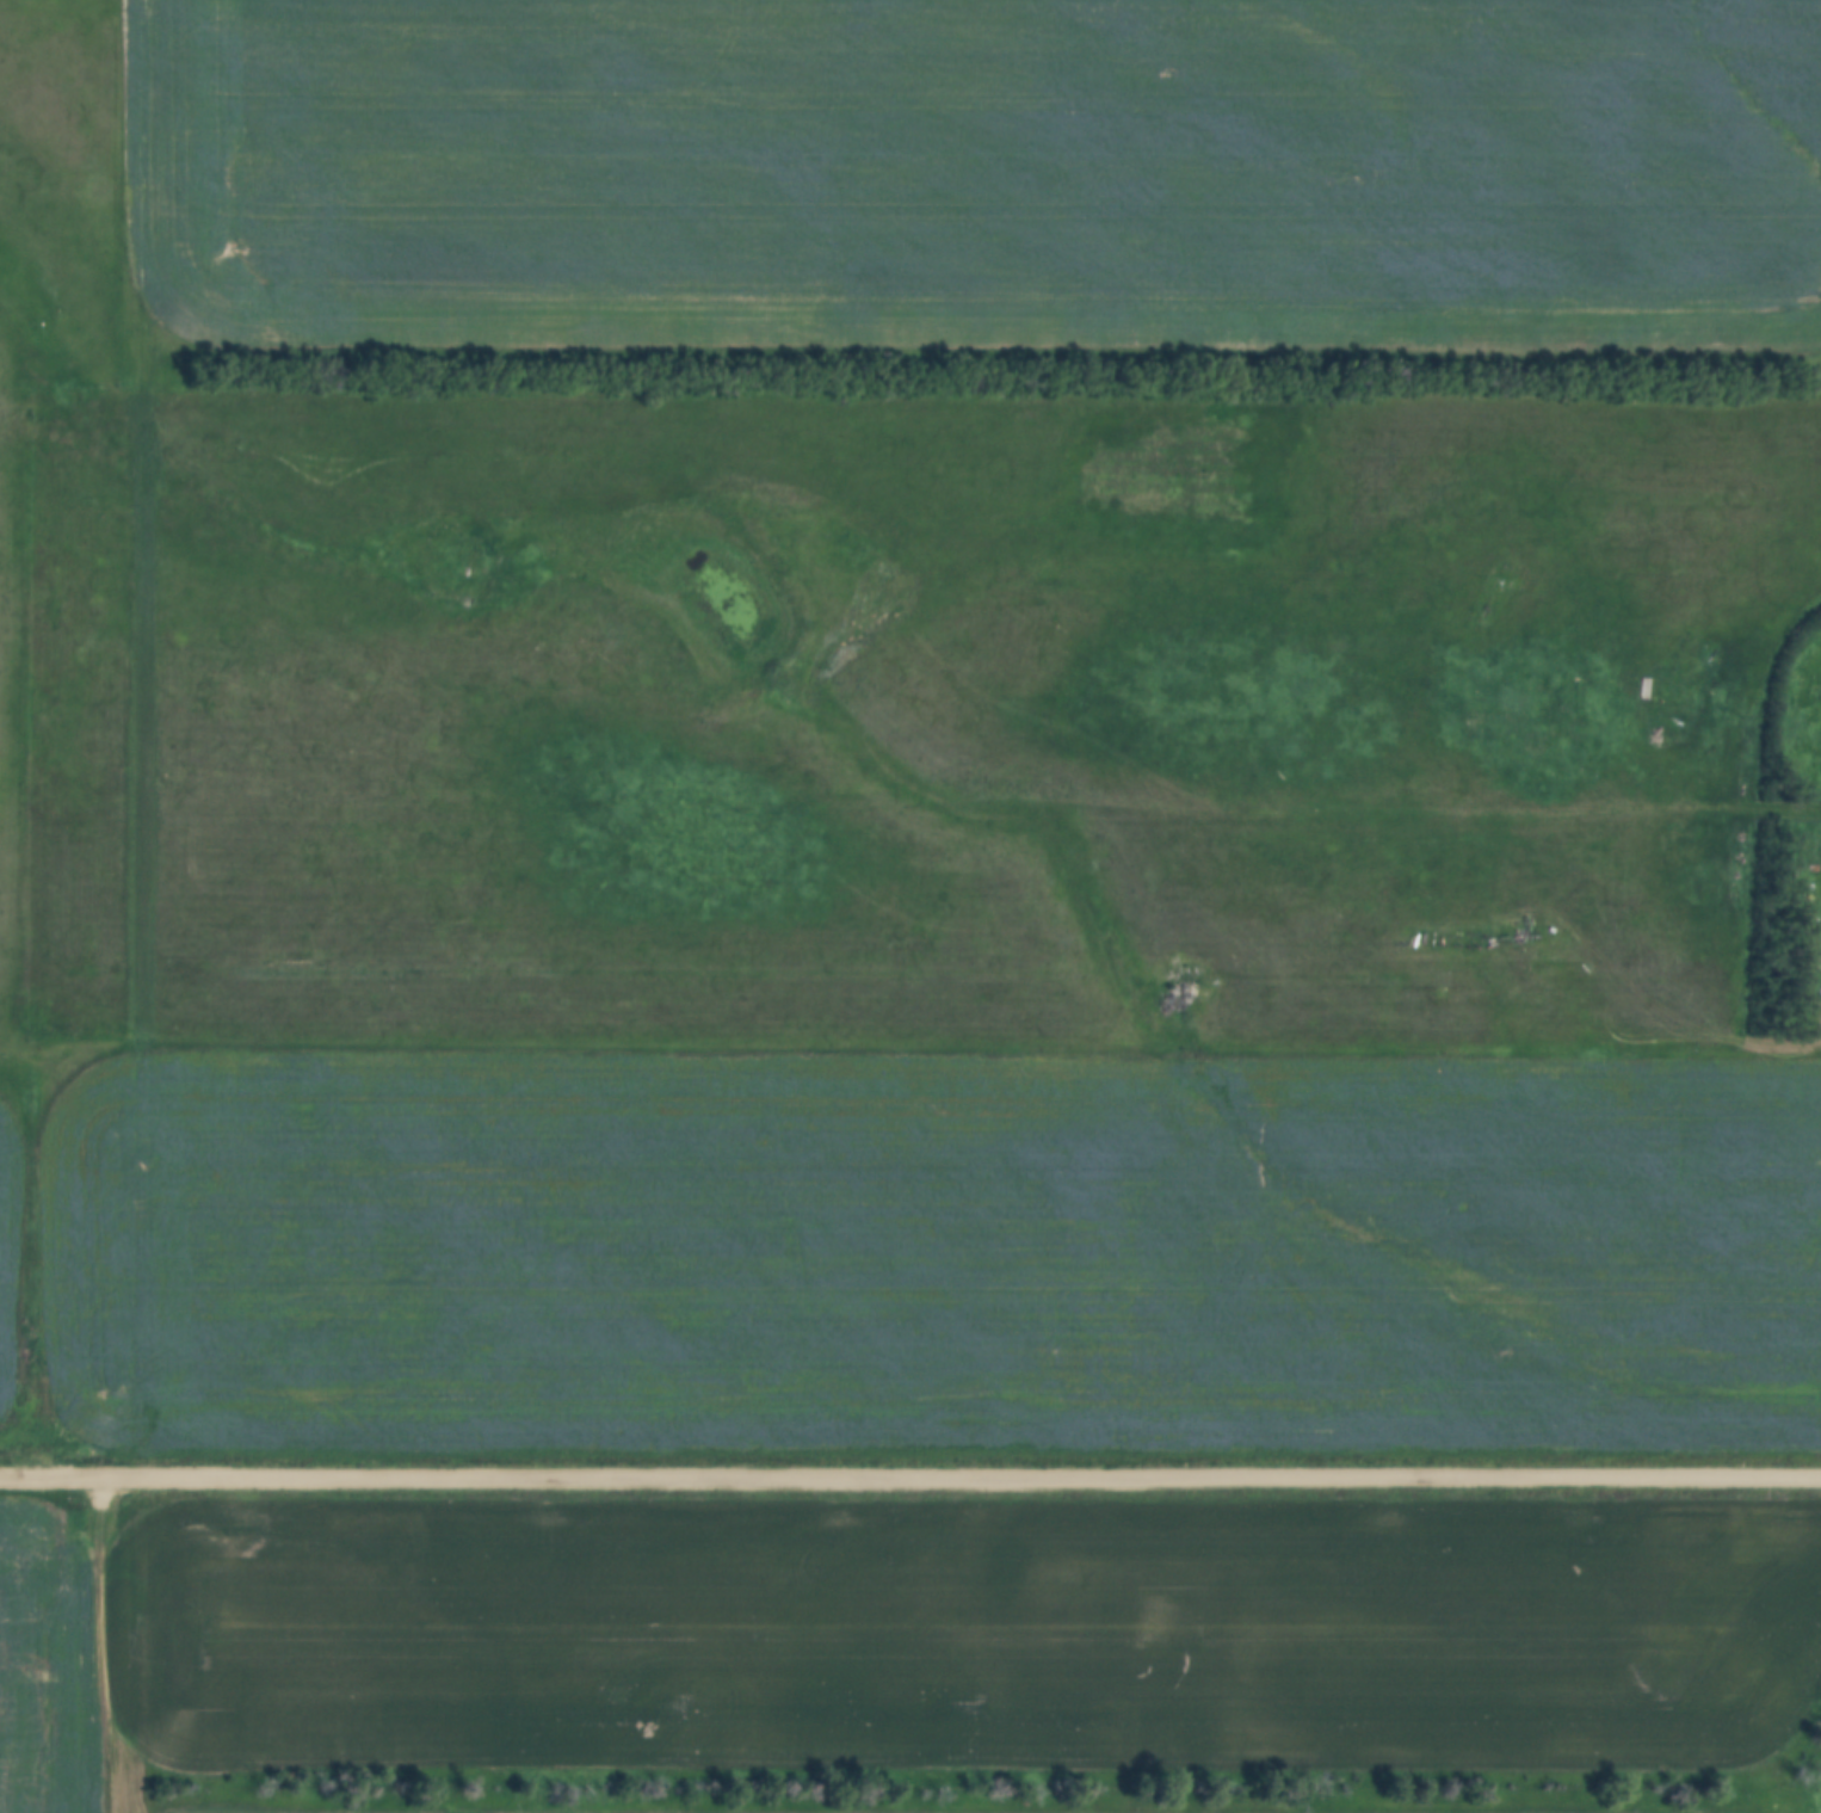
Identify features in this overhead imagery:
road: (909, 1470)

